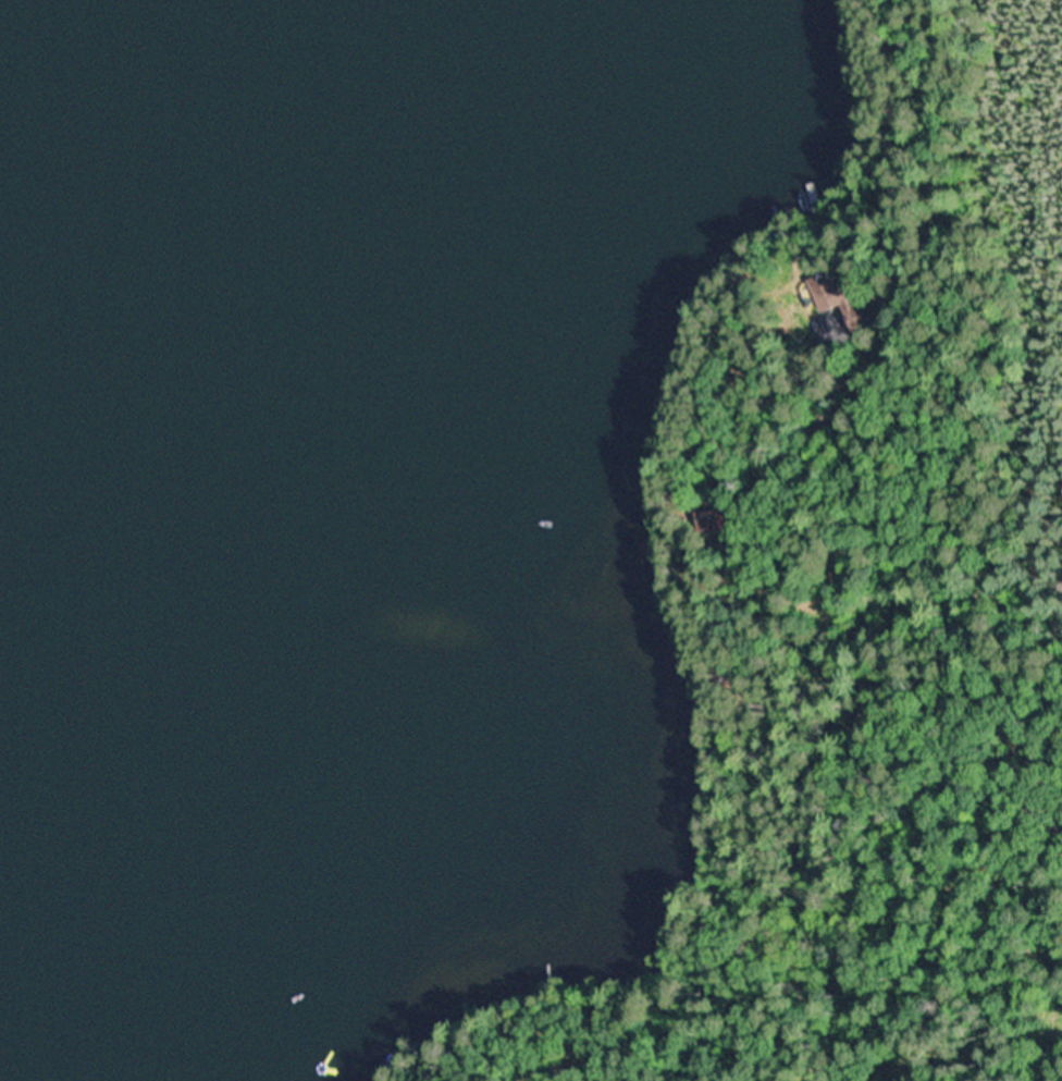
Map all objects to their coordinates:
building: (847, 299)
road: (852, 775)

